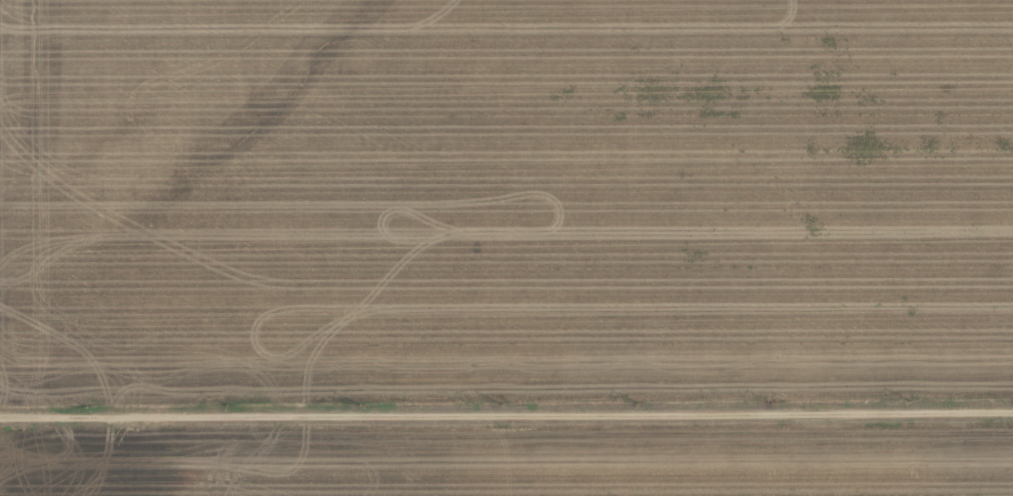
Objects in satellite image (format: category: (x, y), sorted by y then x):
road: (506, 408)

